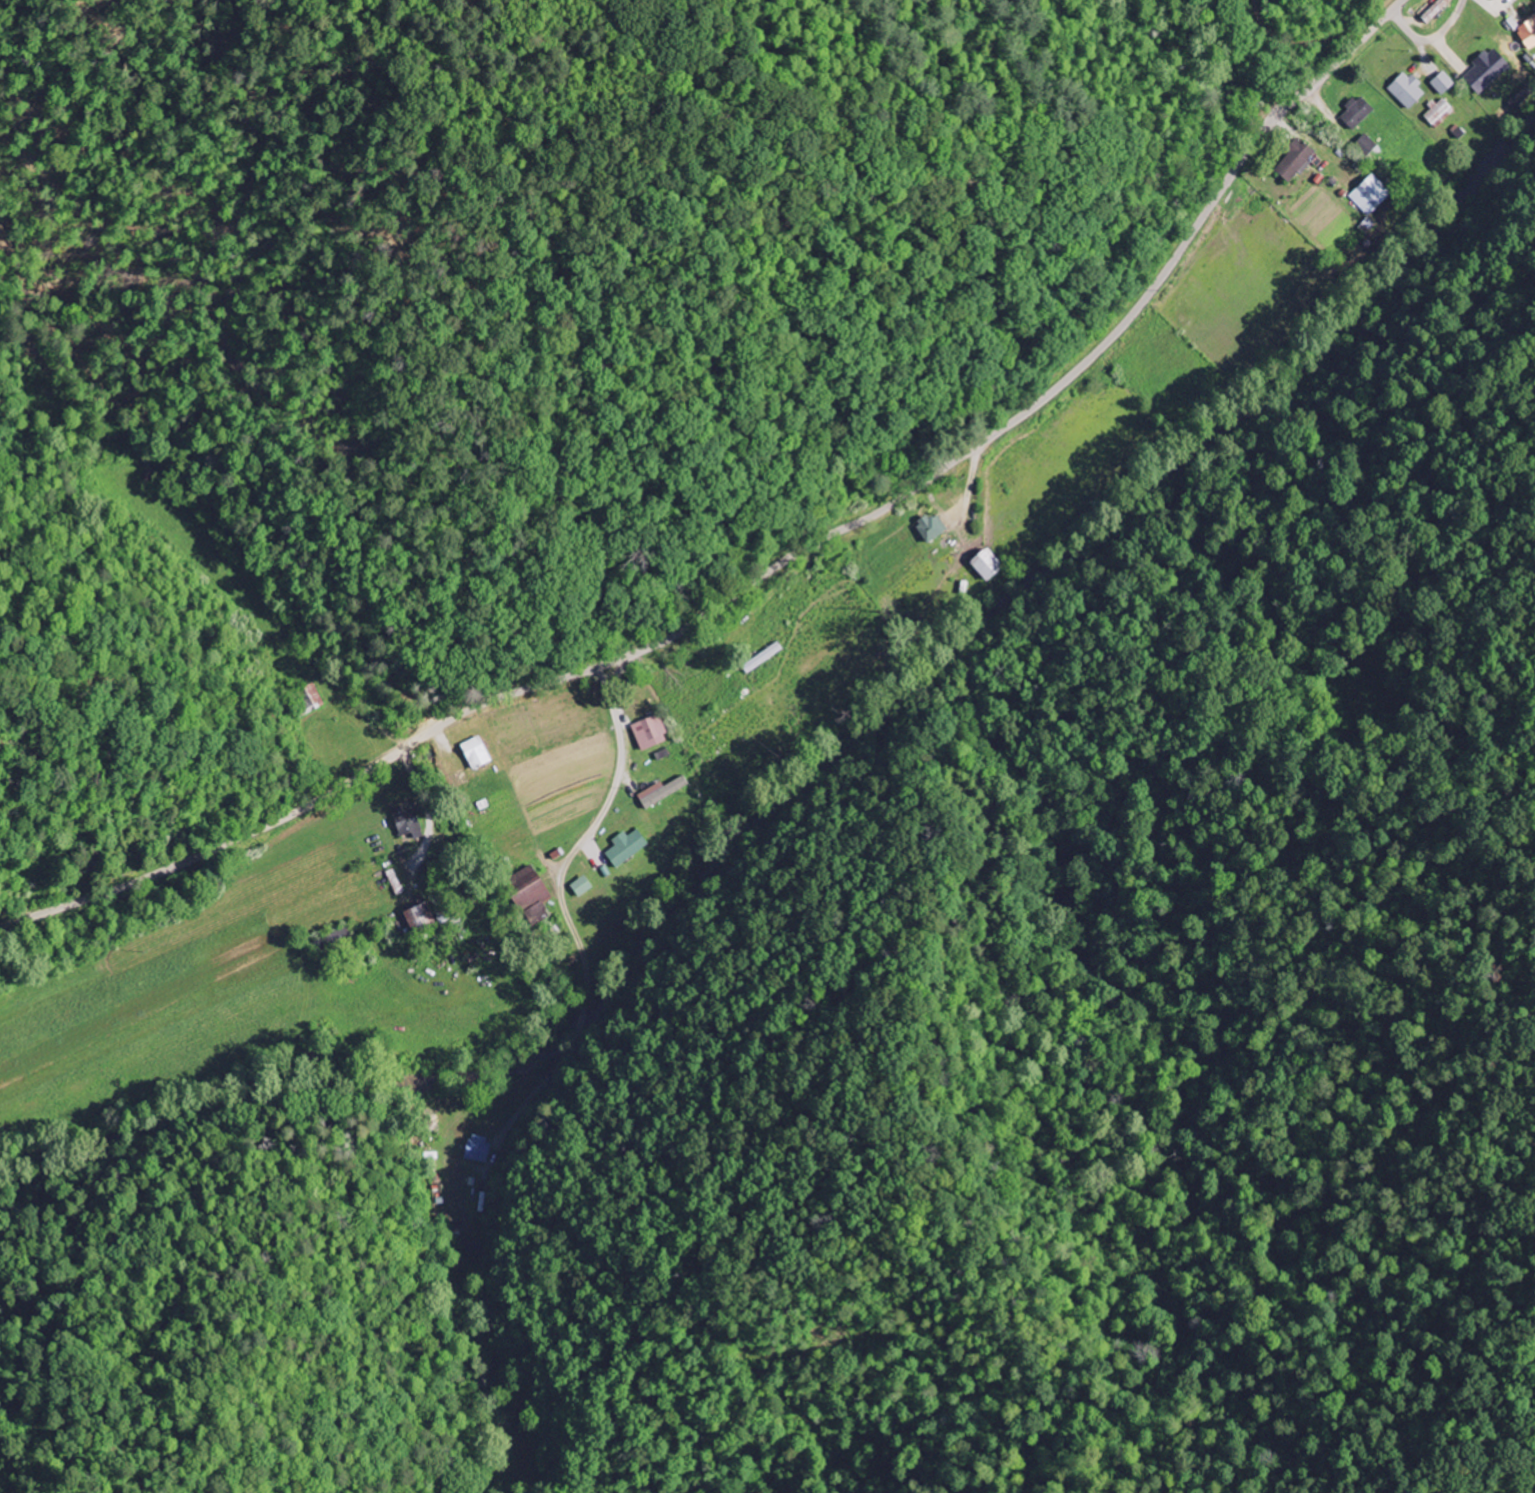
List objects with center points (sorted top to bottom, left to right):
building: (1436, 10)
building: (1529, 35)
building: (1488, 72)
building: (1445, 84)
building: (1409, 90)
building: (1359, 113)
building: (1440, 113)
building: (1362, 146)
building: (1296, 161)
building: (1369, 197)
building: (934, 529)
road: (773, 567)
road: (615, 672)
building: (653, 734)
building: (479, 754)
building: (667, 793)
building: (629, 848)
road: (566, 865)
building: (584, 887)
building: (424, 920)
building: (480, 1149)

